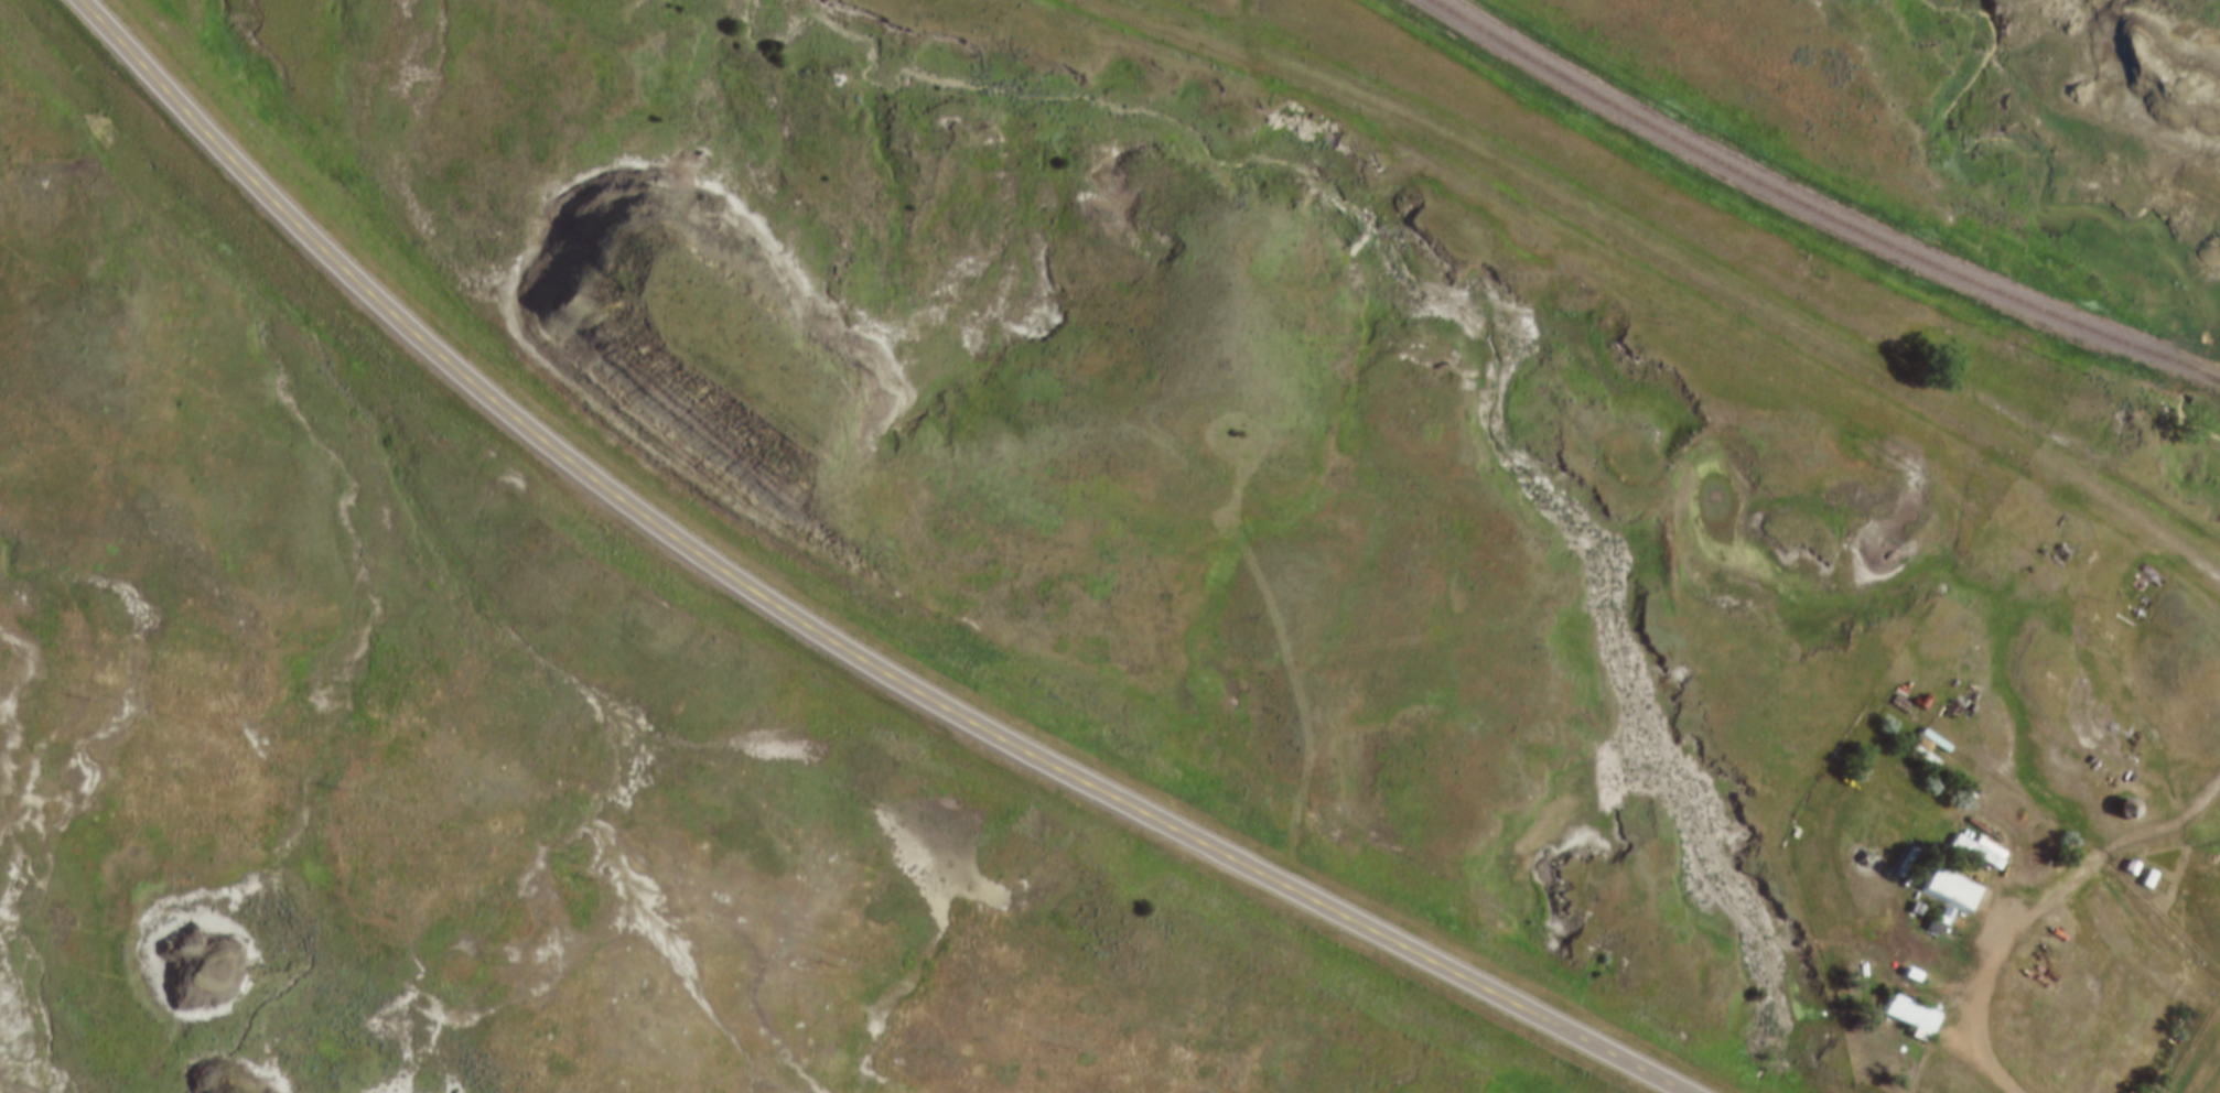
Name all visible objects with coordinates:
railway: (1817, 209)
road: (1680, 260)
road: (834, 627)
building: (2119, 808)
building: (1982, 849)
building: (2126, 867)
building: (2144, 879)
building: (1955, 894)
road: (2046, 910)
building: (1916, 1017)

